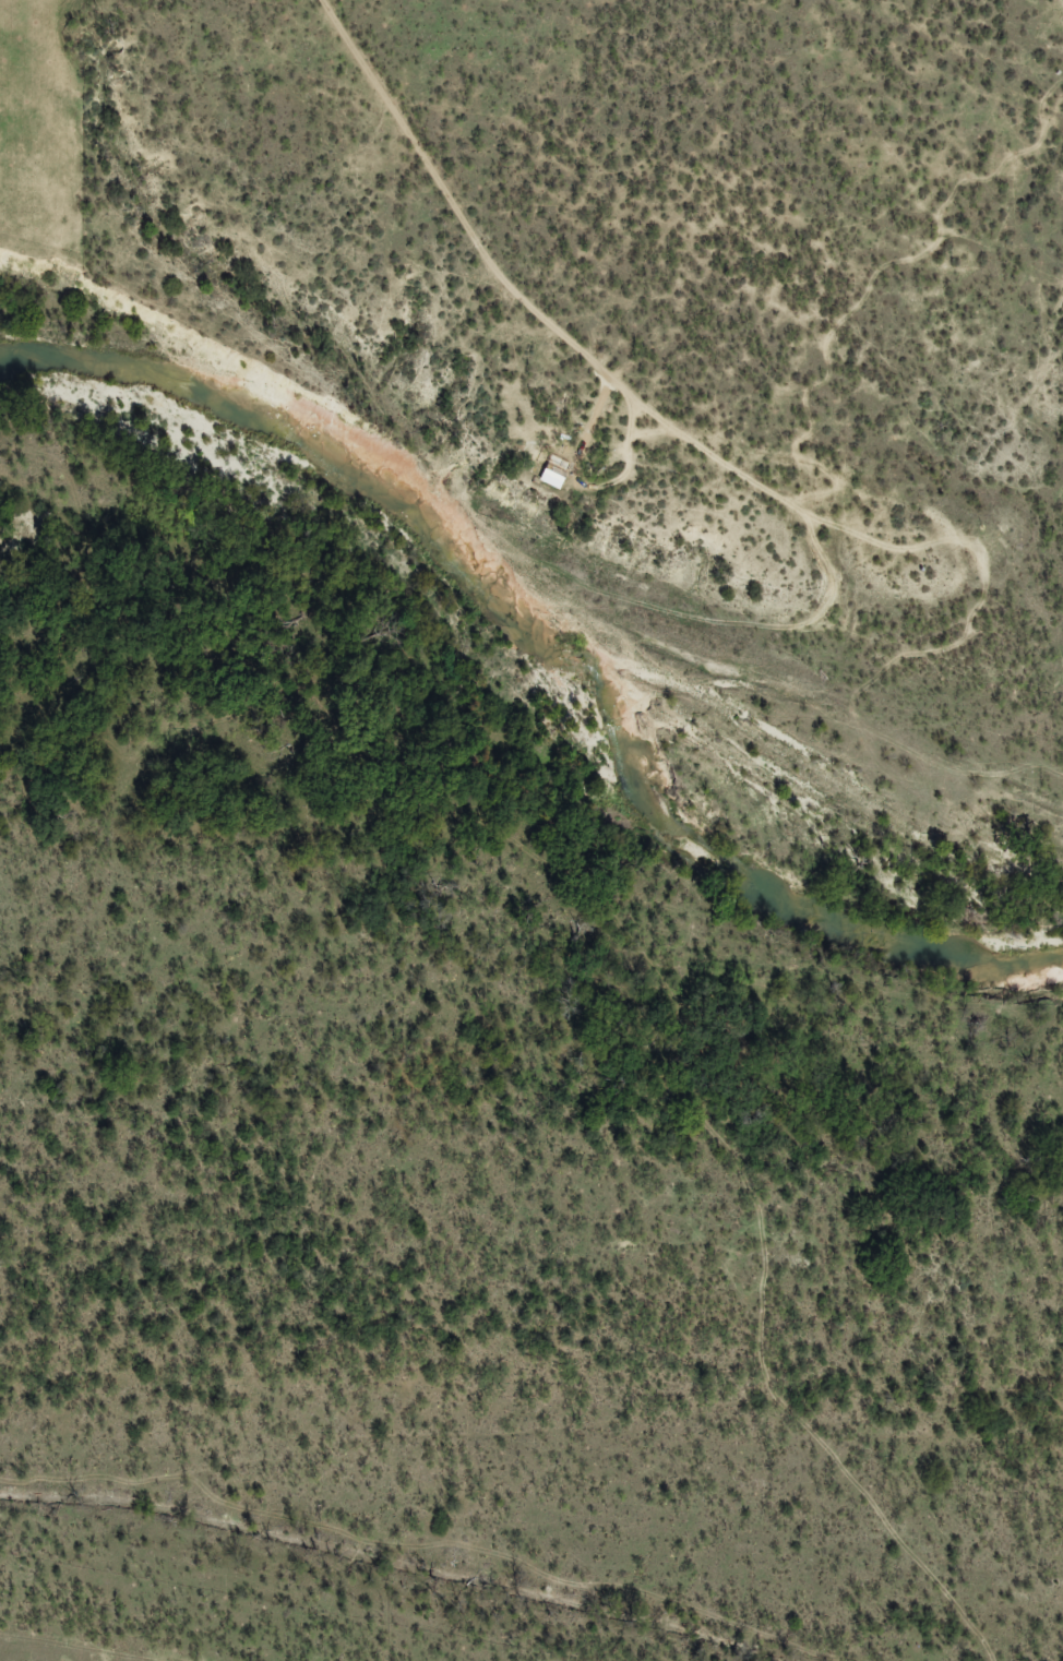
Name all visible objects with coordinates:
road: (712, 428)
building: (548, 474)
river: (525, 678)
road: (841, 1411)

